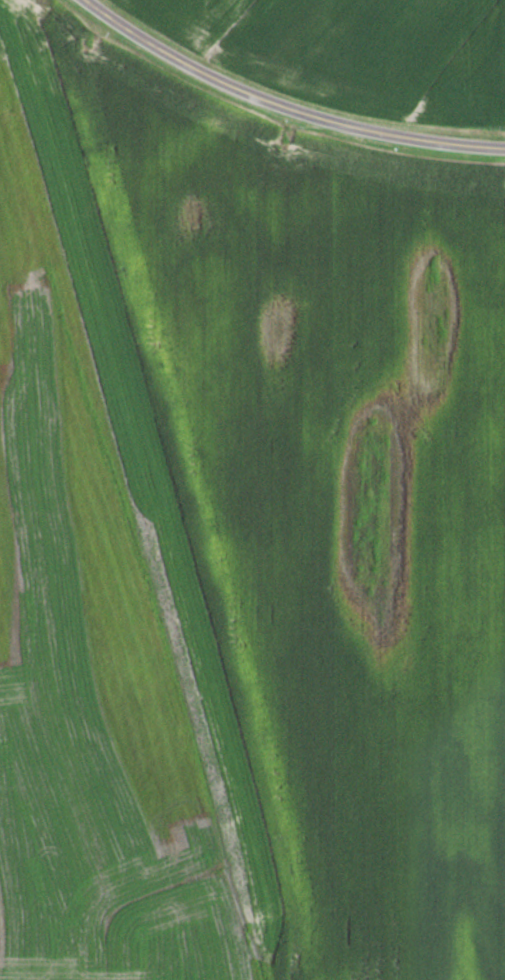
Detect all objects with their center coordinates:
road: (284, 105)

